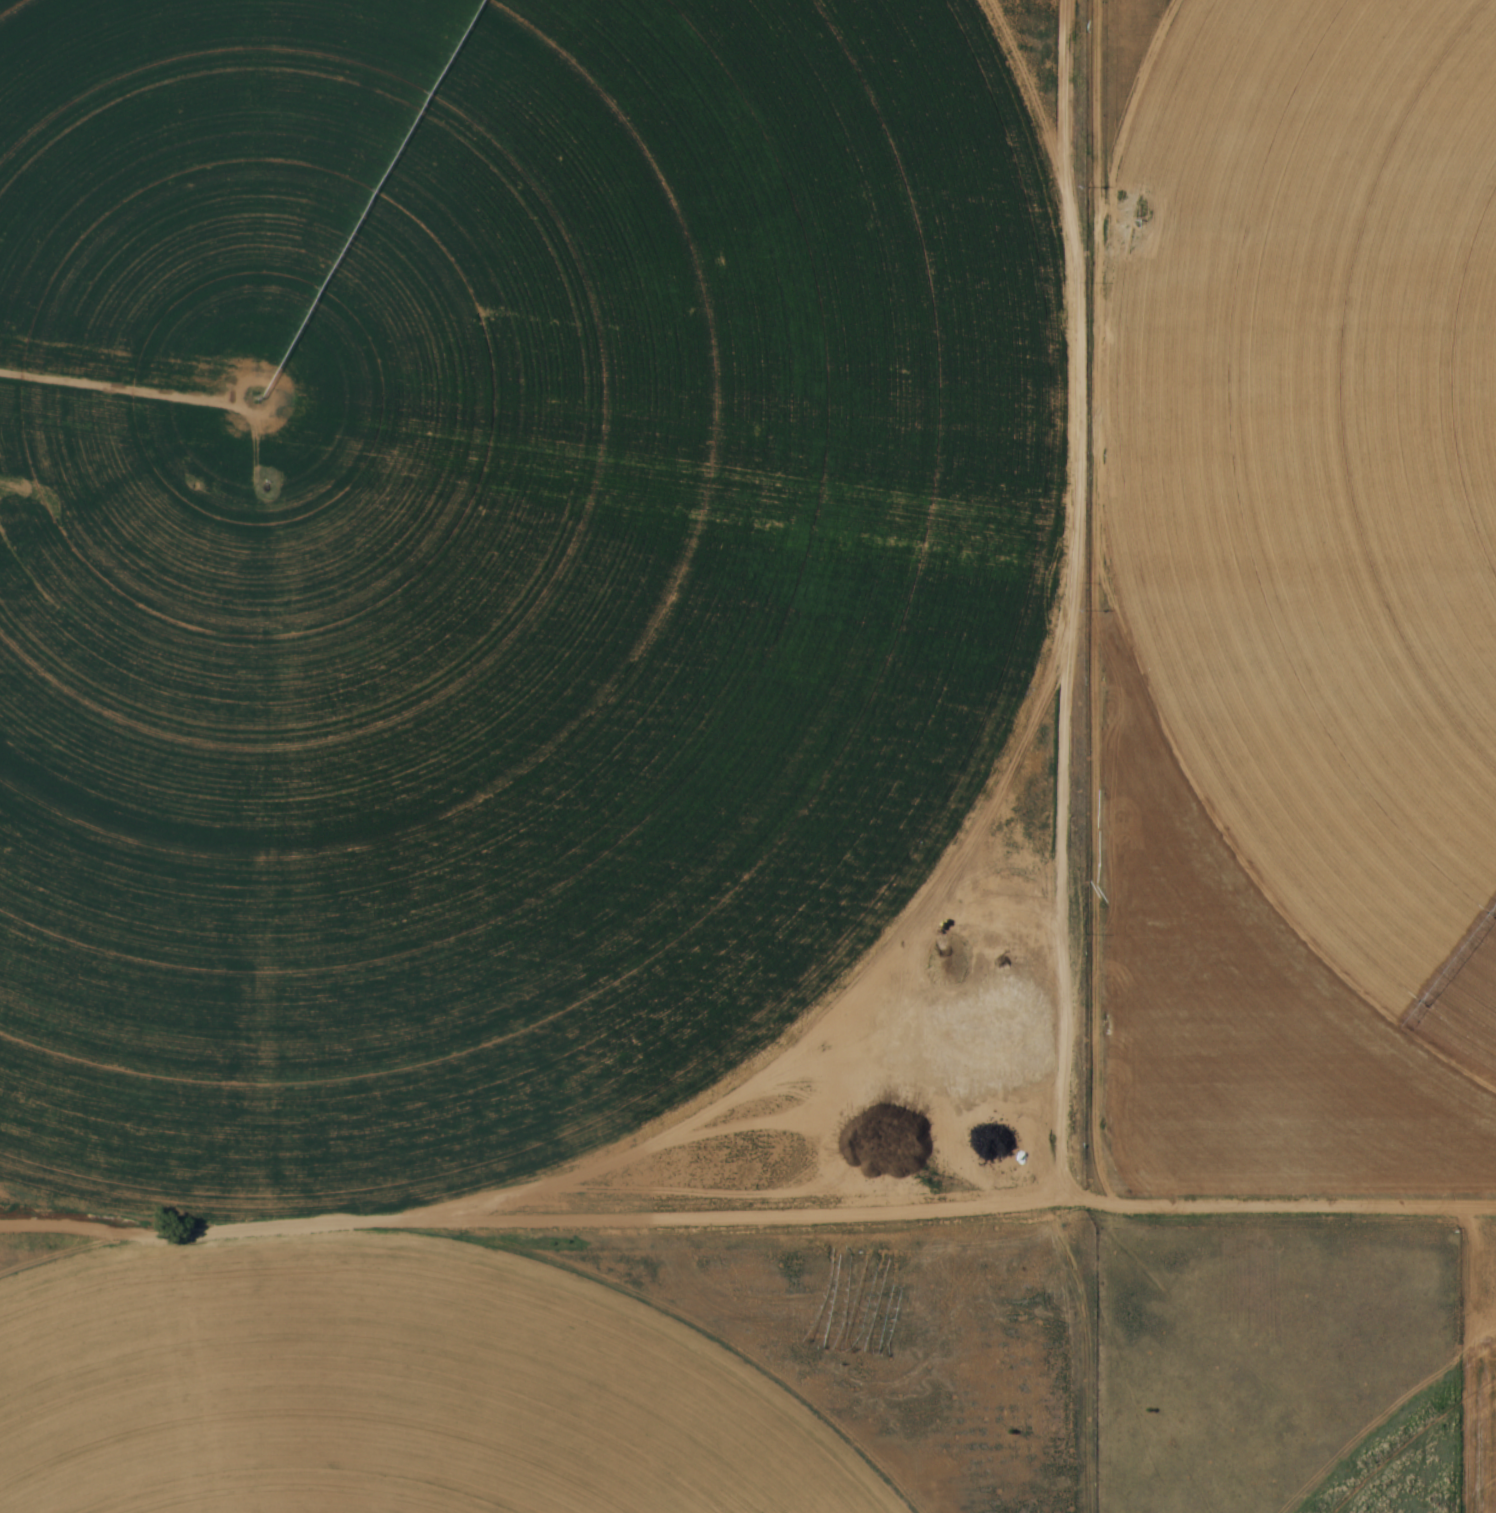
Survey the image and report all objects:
road: (1077, 594)
road: (747, 1195)

